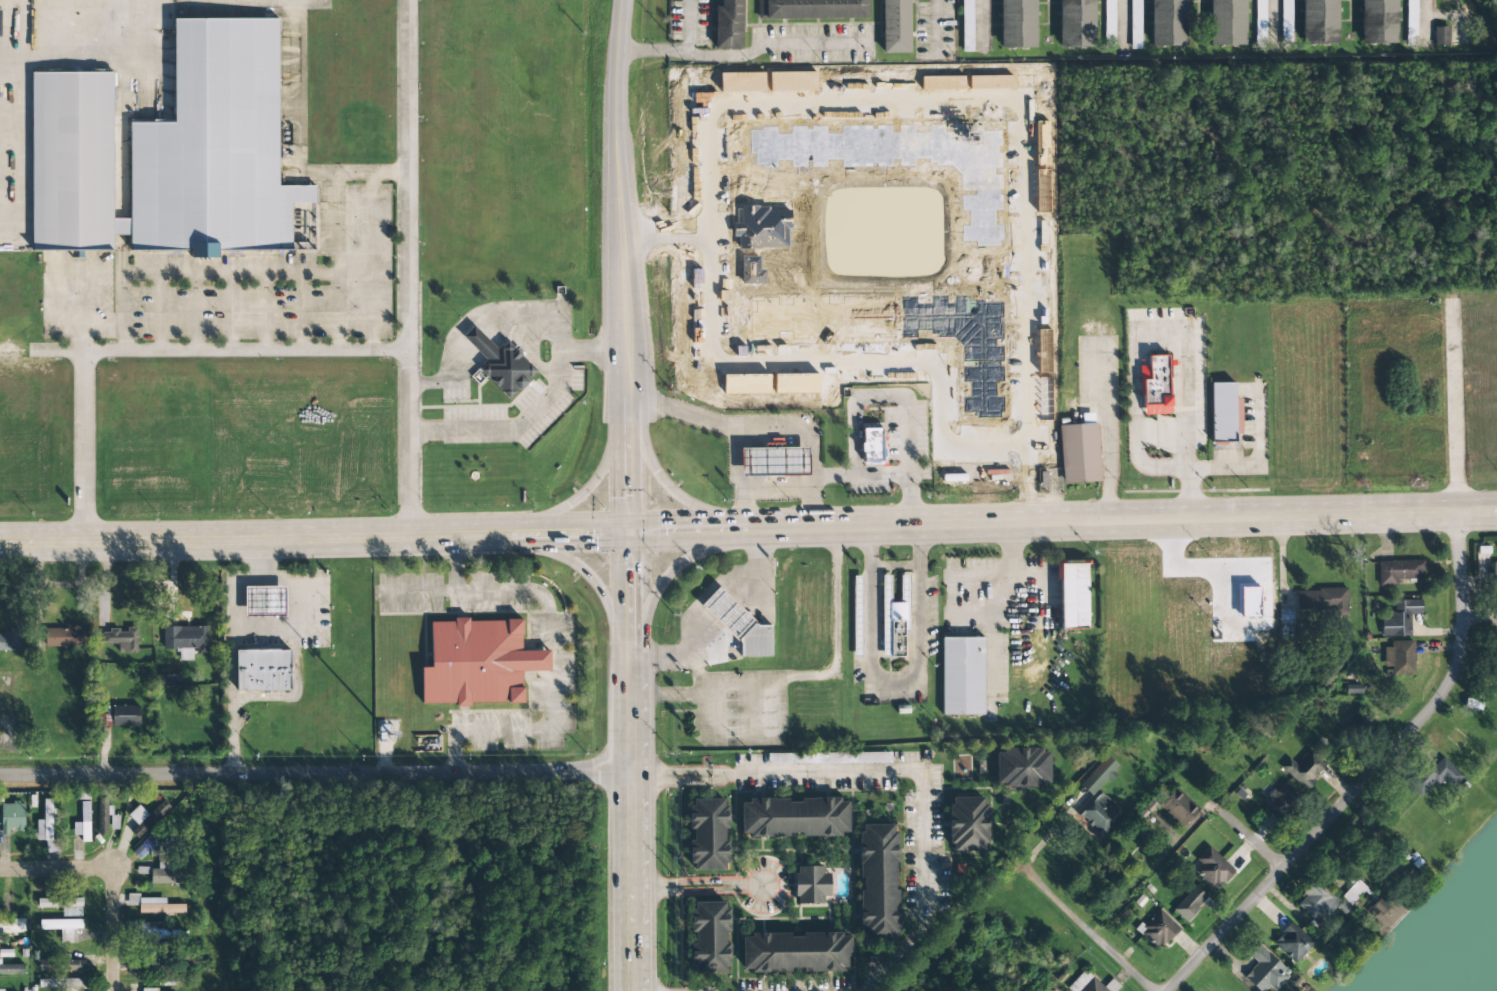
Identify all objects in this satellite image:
building: (1447, 0)
building: (813, 9)
road: (1423, 14)
building: (1411, 17)
building: (1260, 19)
building: (1285, 21)
building: (1376, 21)
building: (1225, 22)
building: (1317, 22)
building: (1015, 23)
building: (1074, 23)
building: (1166, 23)
road: (68, 24)
building: (726, 24)
road: (980, 24)
building: (1109, 24)
building: (1135, 24)
building: (967, 25)
building: (980, 25)
road: (689, 26)
building: (892, 26)
building: (1440, 35)
road: (98, 48)
road: (743, 53)
road: (619, 69)
road: (296, 140)
building: (167, 151)
road: (622, 260)
road: (407, 267)
road: (241, 271)
road: (81, 310)
road: (152, 349)
building: (498, 363)
building: (1154, 386)
building: (1224, 413)
building: (869, 445)
building: (1077, 450)
road: (628, 457)
building: (771, 461)
road: (667, 483)
road: (585, 489)
road: (1131, 519)
road: (697, 531)
road: (480, 533)
road: (555, 533)
traffic signals: (629, 533)
road: (239, 535)
road: (919, 545)
road: (893, 565)
road: (578, 566)
road: (674, 568)
building: (1399, 572)
building: (1494, 573)
road: (629, 594)
building: (1071, 594)
building: (261, 601)
building: (1320, 601)
road: (696, 604)
road: (1480, 614)
building: (856, 616)
building: (1399, 618)
building: (892, 619)
building: (736, 624)
building: (64, 636)
building: (119, 638)
building: (10, 640)
building: (184, 640)
road: (229, 645)
building: (1398, 659)
building: (475, 663)
road: (832, 666)
building: (1494, 667)
building: (260, 670)
building: (960, 676)
building: (169, 677)
road: (877, 677)
road: (686, 693)
building: (121, 715)
road: (1371, 726)
building: (1353, 728)
building: (828, 758)
building: (1020, 767)
building: (1303, 769)
road: (626, 771)
road: (698, 773)
road: (1368, 774)
road: (313, 775)
building: (1432, 776)
road: (648, 778)
road: (698, 781)
road: (921, 800)
building: (1097, 801)
building: (1279, 801)
building: (1176, 808)
building: (11, 817)
building: (104, 817)
building: (146, 818)
building: (792, 818)
building: (82, 822)
building: (964, 824)
road: (1235, 825)
building: (45, 828)
building: (705, 834)
building: (150, 846)
road: (1273, 859)
building: (1210, 867)
road: (48, 870)
building: (162, 876)
road: (699, 882)
building: (875, 884)
road: (746, 885)
building: (808, 885)
road: (648, 887)
road: (700, 890)
building: (1188, 902)
building: (1316, 902)
building: (61, 904)
building: (153, 905)
building: (5, 907)
building: (1383, 910)
building: (11, 925)
road: (114, 925)
building: (60, 928)
building: (1157, 930)
road: (1085, 931)
building: (157, 932)
building: (706, 937)
road: (625, 939)
building: (1291, 943)
building: (793, 953)
building: (58, 963)
building: (11, 968)
building: (1263, 971)
building: (1084, 983)
building: (59, 984)
building: (0, 989)
building: (148, 989)
building: (1, 990)

